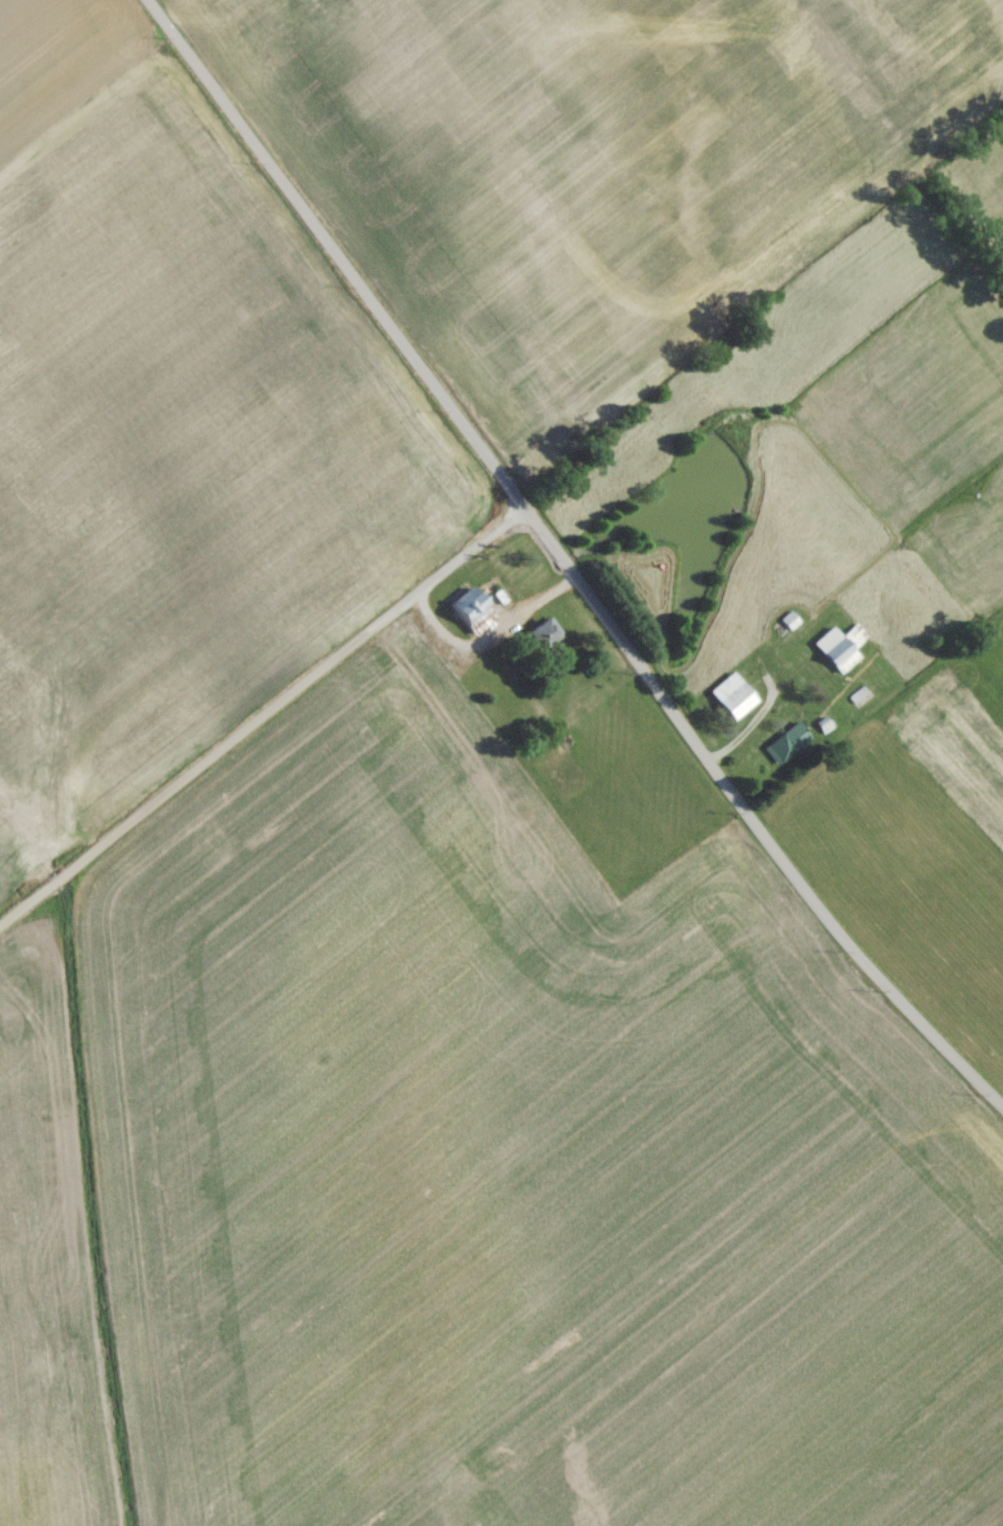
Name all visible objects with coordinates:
road: (334, 252)
building: (473, 616)
building: (841, 652)
building: (733, 701)
road: (257, 705)
building: (787, 748)
road: (751, 819)

